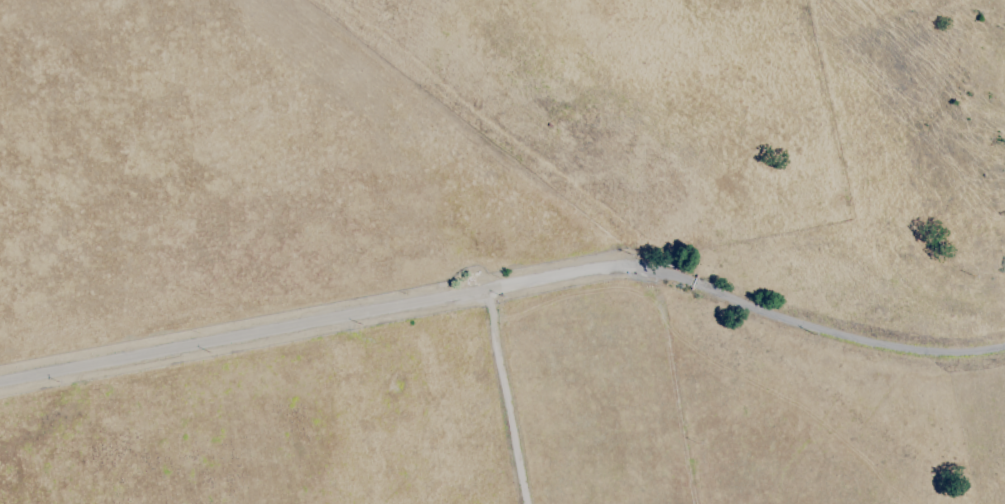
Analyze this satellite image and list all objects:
road: (336, 318)
road: (836, 332)
road: (509, 396)

